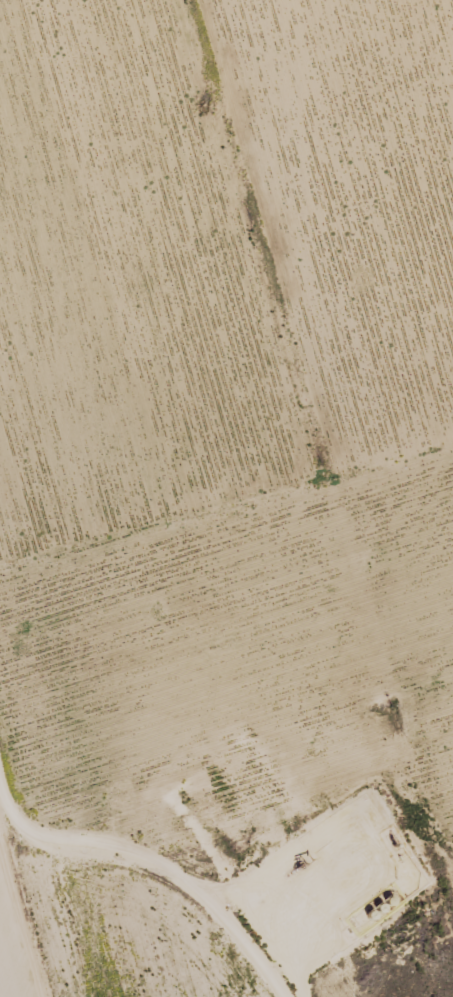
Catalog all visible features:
road: (114, 896)

